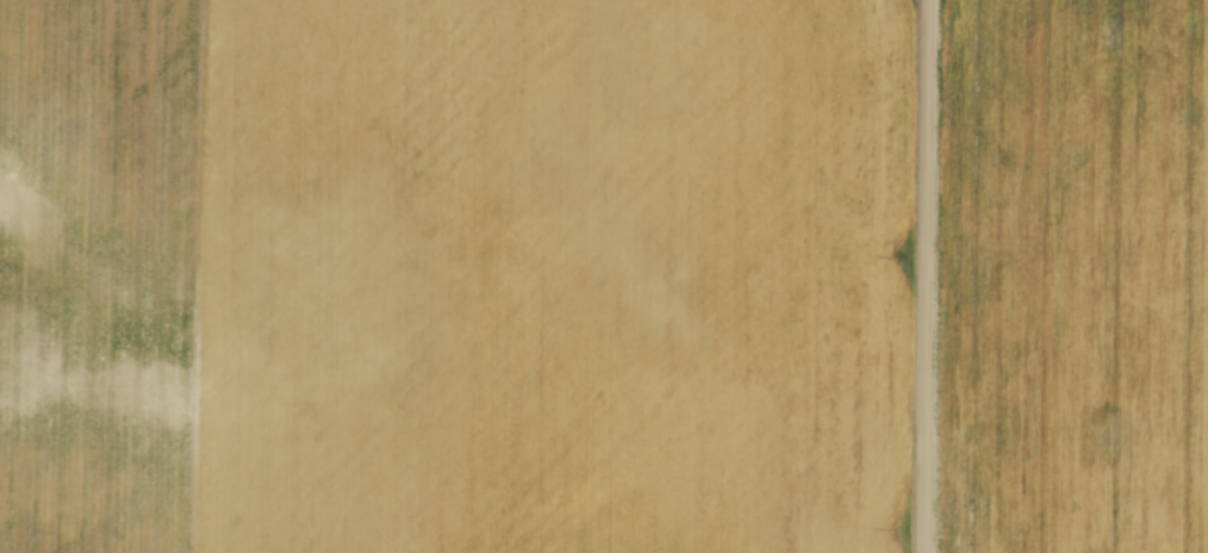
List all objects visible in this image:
crop: (455, 275)
road: (928, 276)
crop: (1079, 276)

